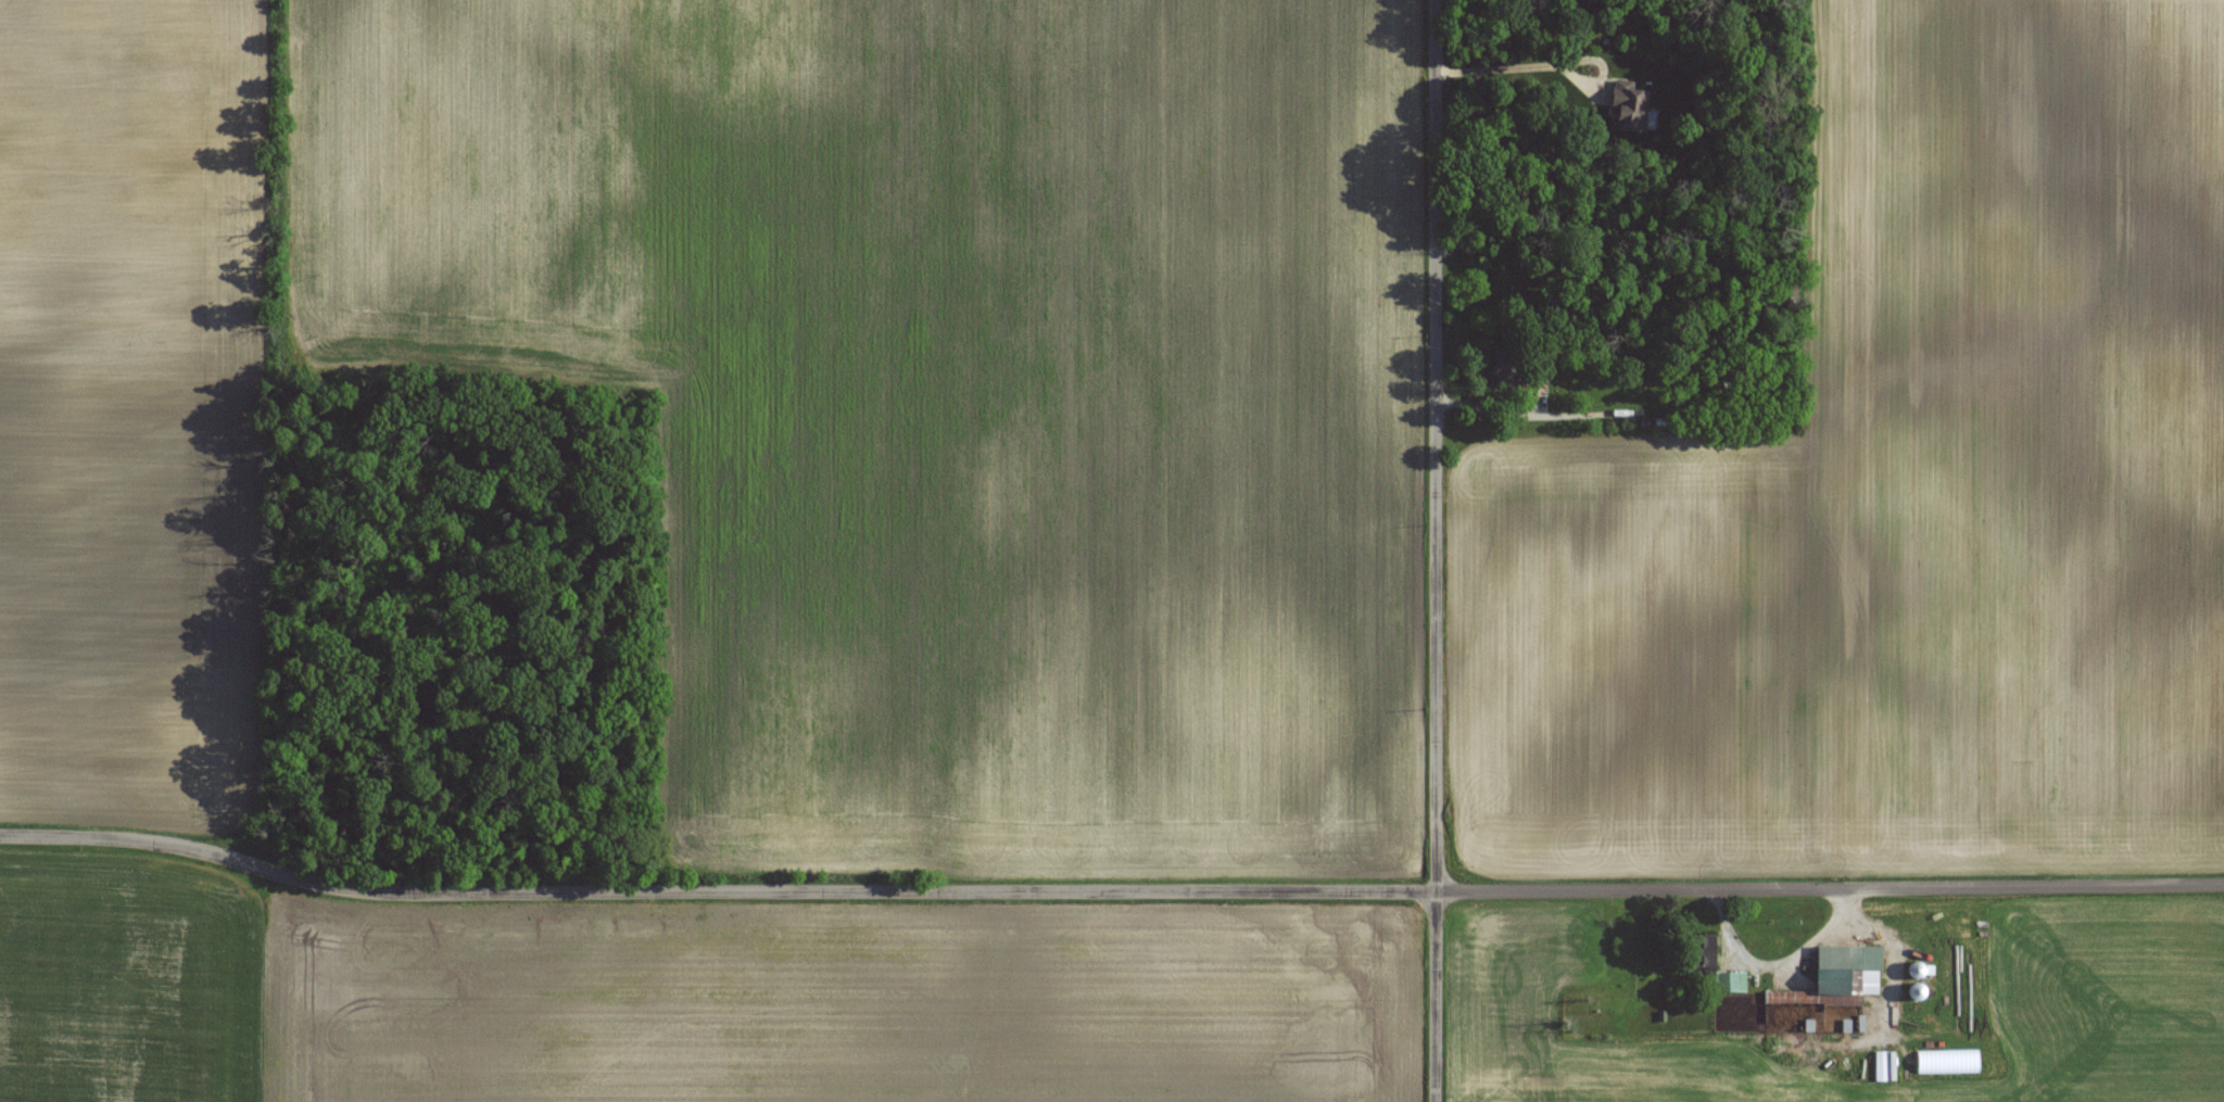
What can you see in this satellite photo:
road: (1551, 65)
building: (1629, 106)
building: (1506, 369)
building: (1539, 373)
road: (1436, 550)
road: (1108, 891)
building: (1713, 966)
building: (1837, 978)
building: (1946, 1062)

